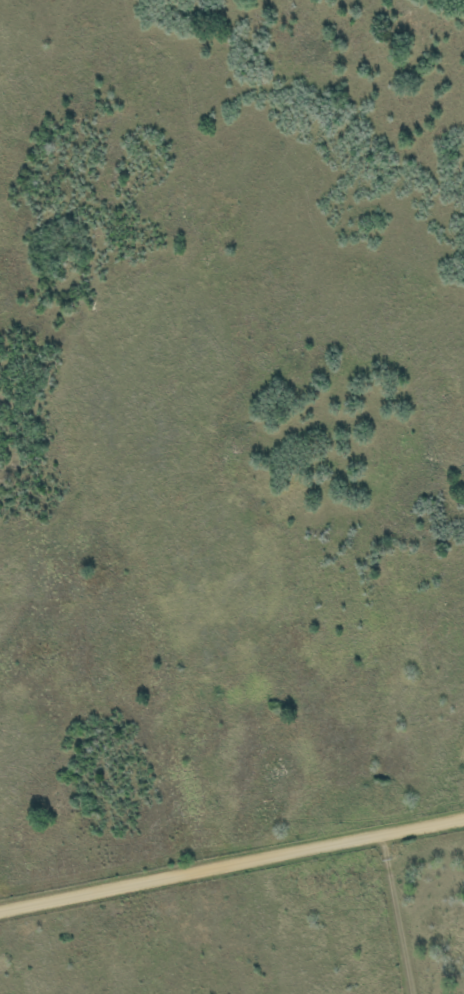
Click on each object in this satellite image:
road: (231, 863)

